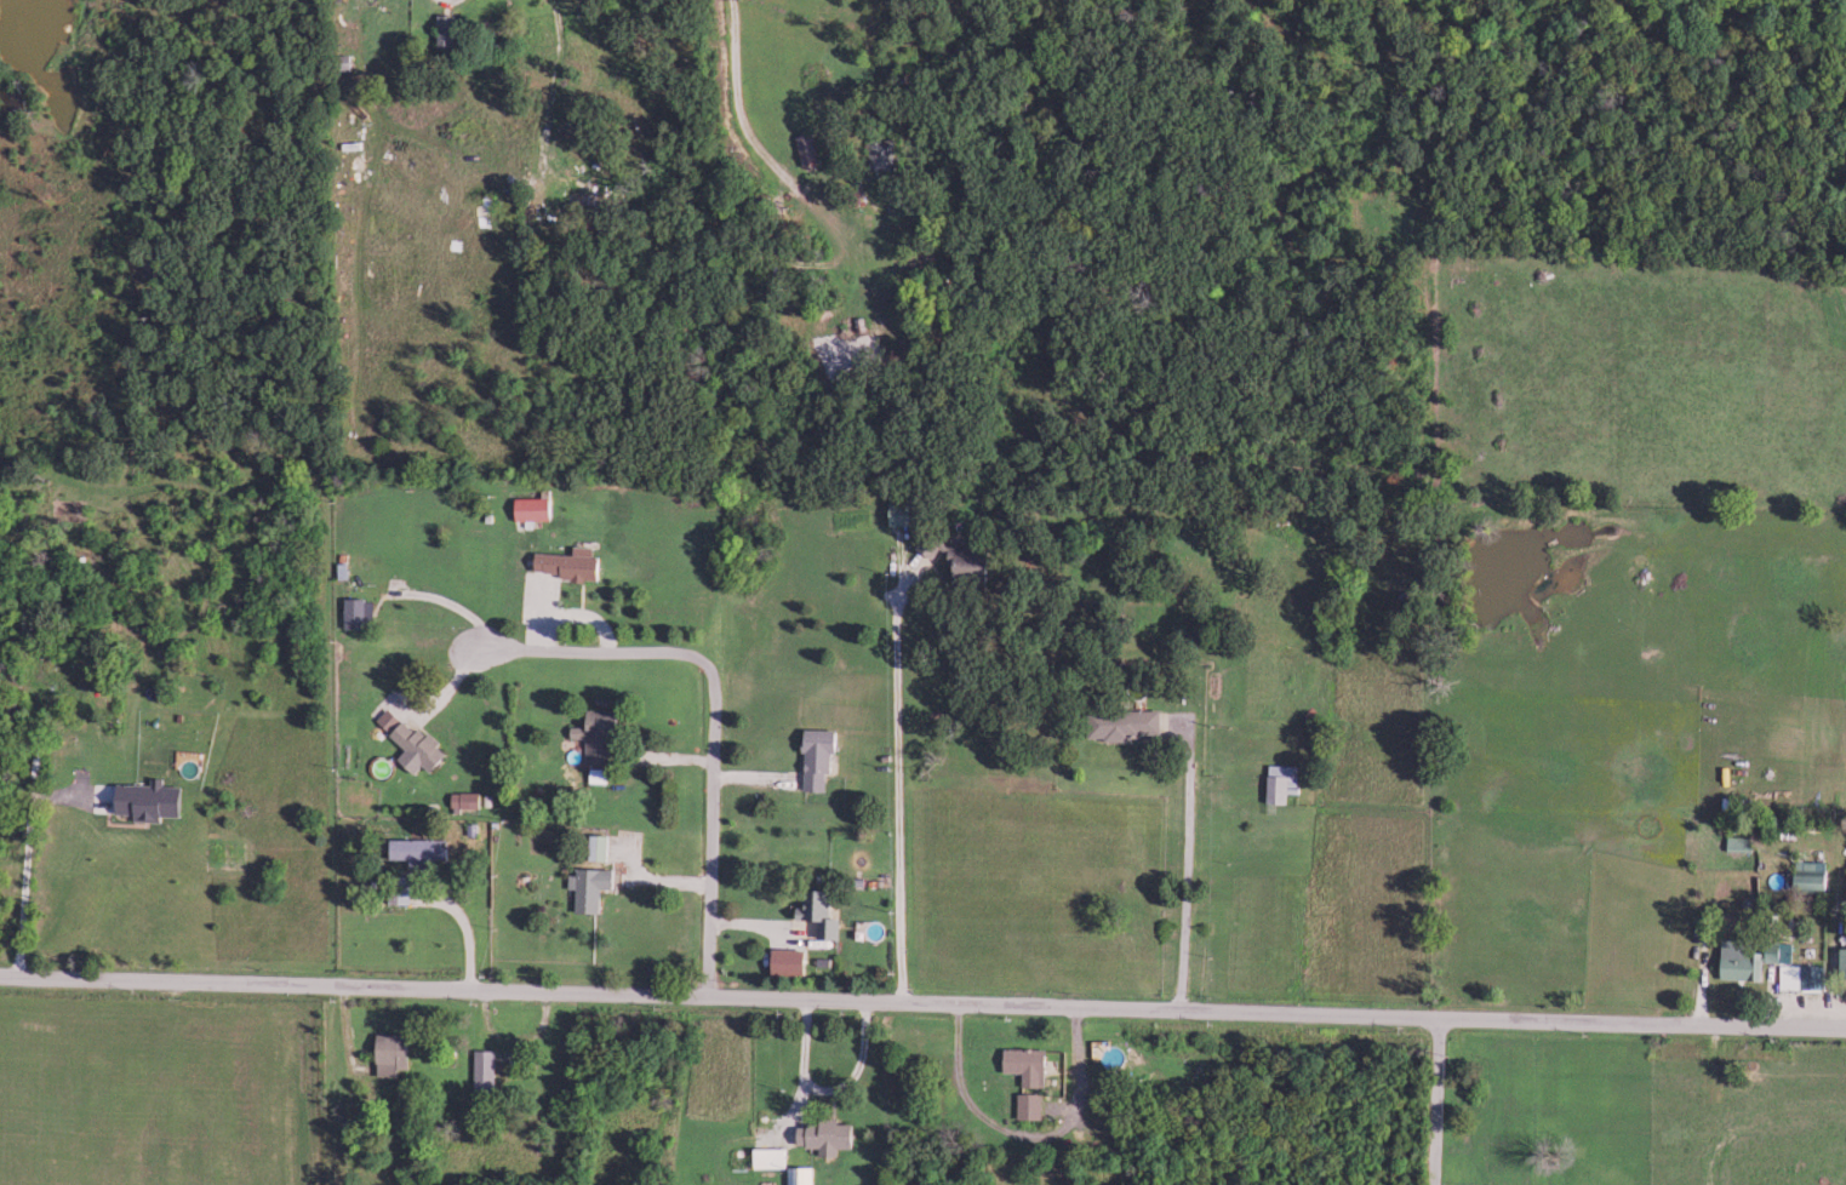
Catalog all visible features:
road: (745, 80)
road: (1101, 515)
road: (450, 601)
road: (711, 719)
building: (1126, 722)
road: (1262, 775)
building: (1282, 780)
road: (892, 790)
road: (25, 854)
road: (1178, 869)
building: (1813, 874)
road: (970, 886)
road: (467, 927)
building: (1741, 960)
building: (1842, 962)
building: (1802, 975)
road: (922, 1006)
building: (1029, 1064)
building: (1030, 1105)
road: (1438, 1105)
road: (1022, 1137)

